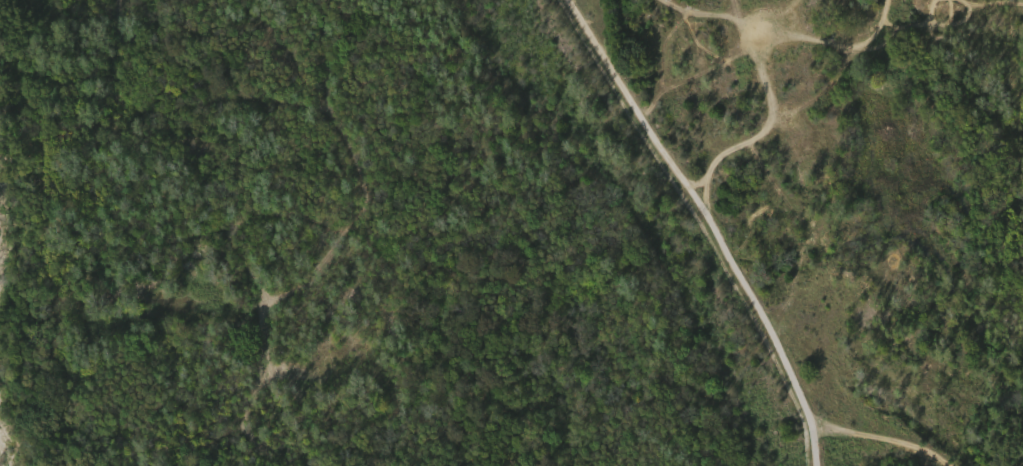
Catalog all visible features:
road: (700, 223)

